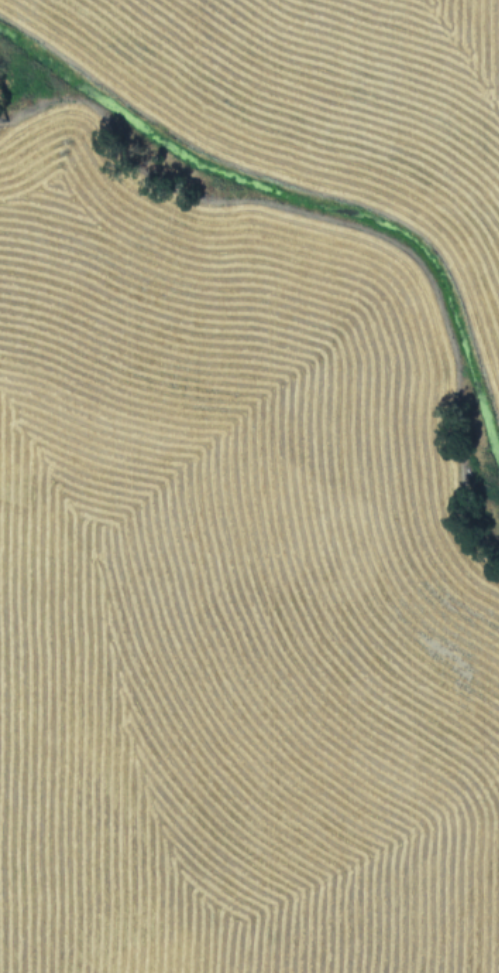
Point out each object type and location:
crop: (249, 486)

